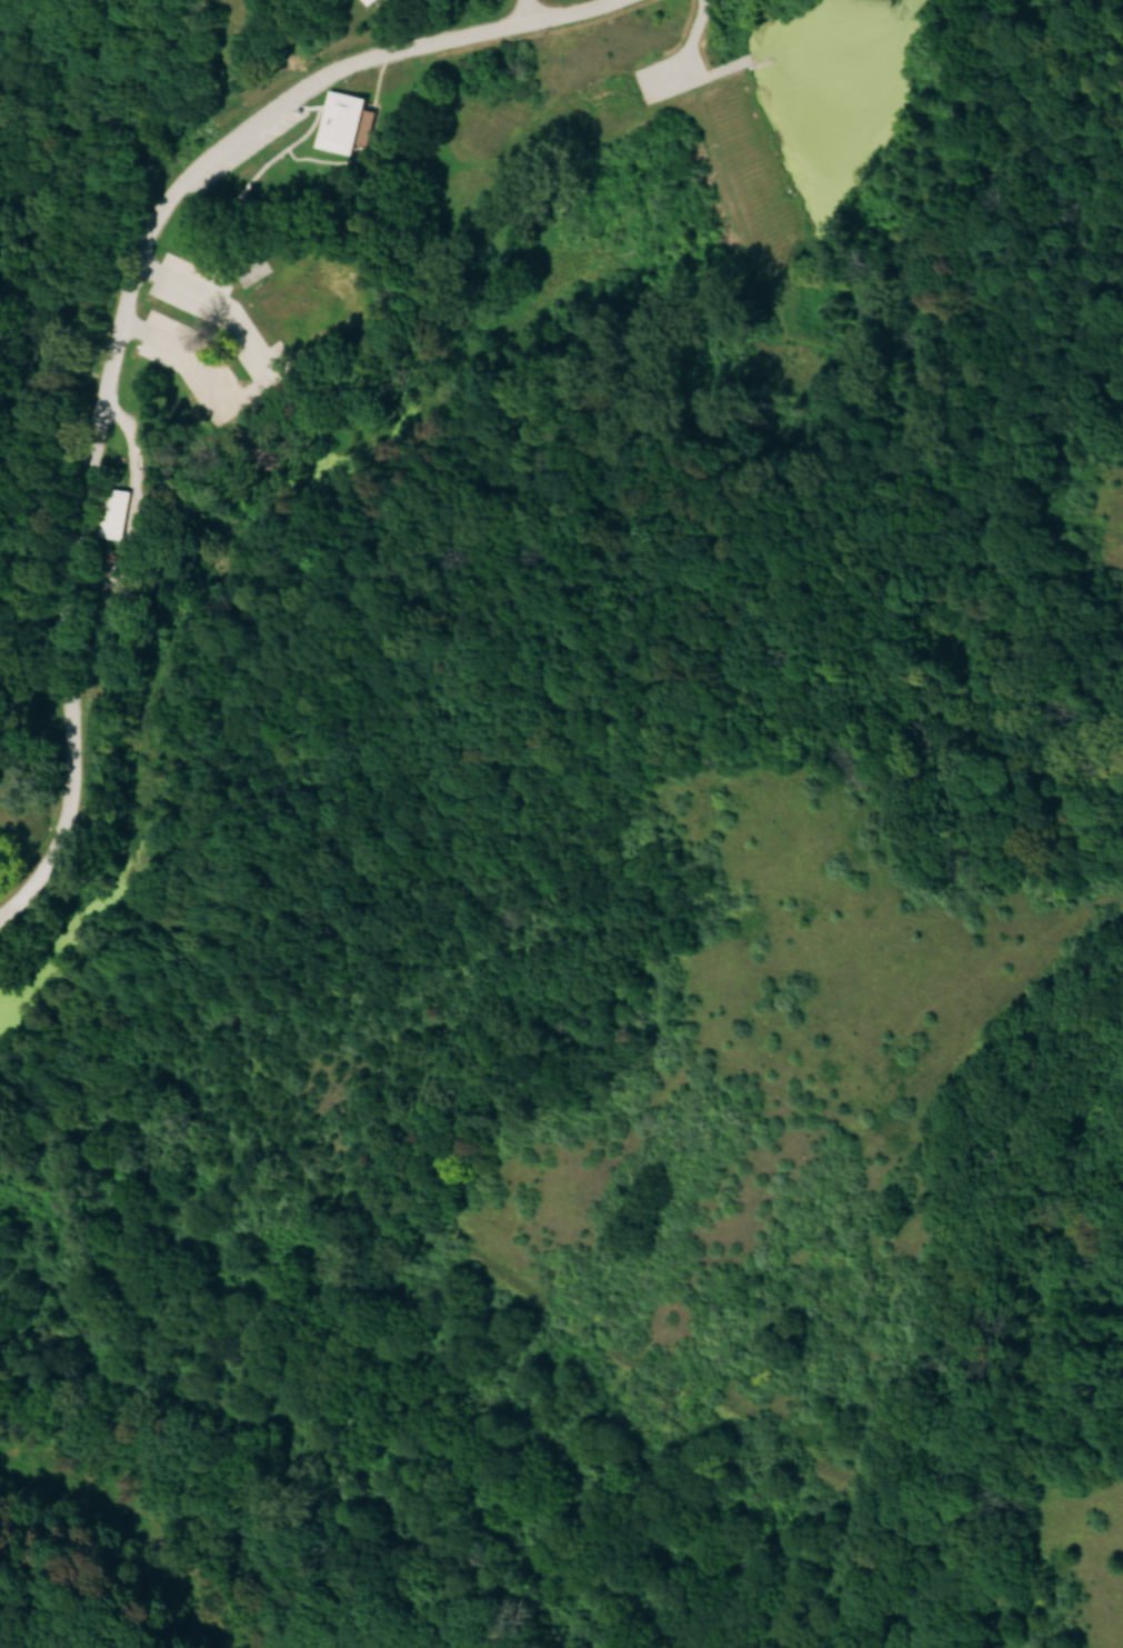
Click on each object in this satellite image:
building: (370, 1)
road: (529, 9)
parking lot: (678, 63)
building: (349, 120)
building: (302, 296)
road: (119, 316)
building: (118, 508)

